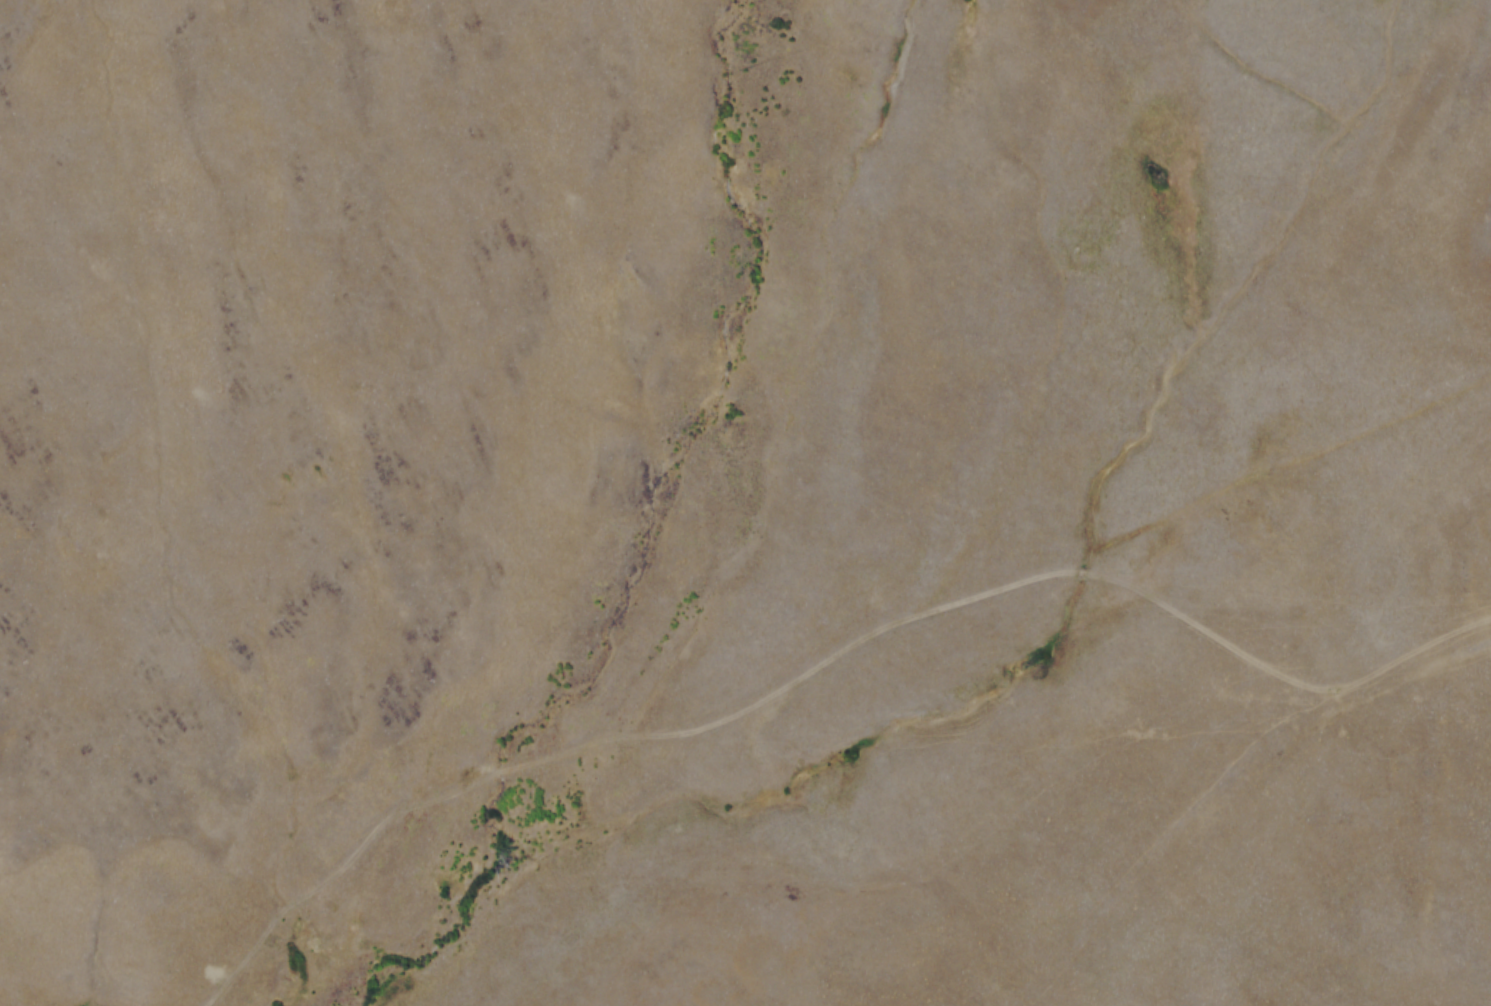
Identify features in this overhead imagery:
road: (1107, 586)

